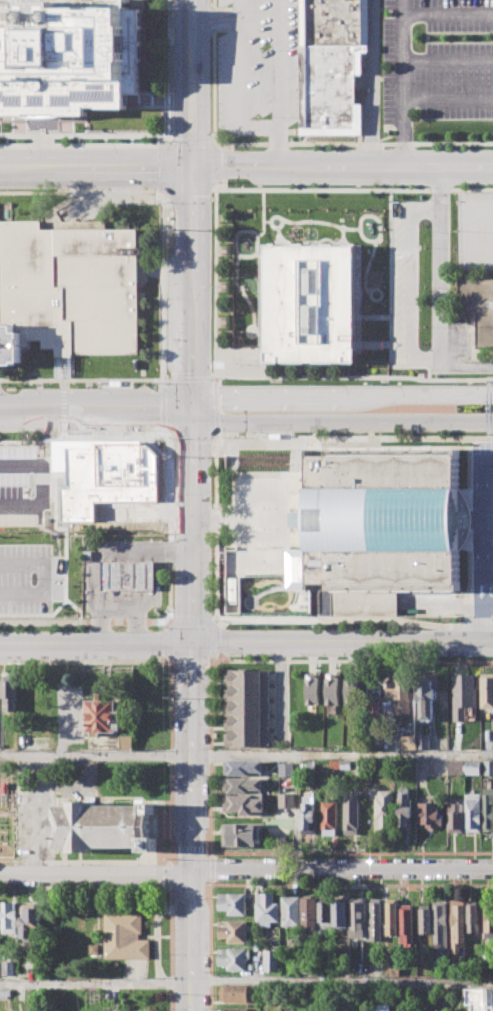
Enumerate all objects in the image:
road: (448, 12)
road: (215, 13)
road: (237, 19)
road: (215, 24)
building: (67, 56)
parking lot: (438, 59)
road: (448, 59)
road: (239, 62)
road: (277, 63)
building: (332, 65)
road: (214, 72)
road: (168, 73)
road: (192, 83)
road: (372, 84)
road: (404, 84)
road: (139, 94)
road: (448, 100)
road: (258, 125)
flagpole: (43, 131)
road: (84, 135)
road: (192, 144)
road: (84, 145)
road: (277, 146)
road: (216, 163)
road: (95, 167)
traffic signals: (191, 167)
road: (342, 167)
road: (163, 169)
road: (191, 188)
road: (81, 191)
road: (164, 195)
parking lot: (473, 230)
road: (465, 232)
road: (191, 283)
building: (71, 285)
road: (408, 285)
road: (164, 291)
road: (442, 292)
parking lot: (429, 293)
building: (313, 301)
building: (476, 307)
building: (9, 345)
road: (341, 396)
road: (95, 399)
traffic signals: (191, 400)
road: (217, 400)
road: (163, 408)
road: (191, 411)
road: (96, 420)
road: (342, 421)
traffic signals: (192, 422)
road: (81, 434)
road: (351, 438)
road: (171, 439)
road: (192, 439)
building: (90, 474)
road: (22, 483)
building: (384, 517)
road: (482, 520)
road: (170, 522)
parking lot: (477, 526)
parking lot: (18, 530)
road: (192, 530)
road: (101, 553)
road: (33, 573)
building: (126, 575)
gas station: (126, 575)
road: (481, 578)
road: (157, 585)
building: (232, 590)
road: (134, 602)
road: (354, 619)
road: (215, 621)
road: (84, 622)
road: (169, 622)
road: (192, 622)
road: (482, 622)
road: (168, 624)
road: (213, 638)
traffic signals: (194, 639)
road: (343, 639)
road: (97, 640)
road: (169, 641)
road: (86, 661)
road: (351, 662)
road: (169, 663)
road: (208, 663)
road: (173, 664)
road: (190, 664)
road: (280, 687)
building: (314, 689)
building: (333, 689)
building: (354, 689)
building: (487, 690)
building: (9, 694)
building: (401, 694)
building: (463, 695)
building: (428, 698)
building: (246, 708)
building: (102, 716)
road: (170, 736)
building: (125, 742)
building: (423, 742)
road: (246, 755)
road: (210, 756)
building: (311, 764)
building: (340, 764)
building: (242, 767)
building: (361, 767)
building: (489, 767)
building: (473, 768)
building: (286, 769)
building: (242, 785)
building: (287, 800)
building: (245, 804)
building: (405, 808)
building: (384, 809)
building: (488, 809)
building: (352, 812)
building: (473, 812)
building: (309, 814)
building: (430, 815)
building: (329, 816)
building: (455, 817)
road: (192, 825)
building: (102, 826)
building: (240, 835)
road: (351, 853)
road: (110, 861)
road: (170, 863)
road: (210, 868)
road: (246, 870)
road: (170, 875)
road: (351, 884)
building: (232, 903)
building: (266, 909)
building: (291, 911)
building: (325, 913)
building: (340, 913)
building: (310, 915)
building: (488, 915)
building: (472, 916)
building: (9, 917)
building: (357, 917)
building: (392, 917)
building: (30, 920)
building: (425, 920)
building: (375, 921)
building: (407, 923)
building: (440, 924)
building: (457, 924)
road: (157, 930)
building: (233, 931)
building: (125, 935)
road: (210, 944)
road: (171, 947)
building: (94, 948)
building: (234, 958)
building: (271, 961)
building: (8, 967)
building: (0, 968)
road: (95, 981)
road: (342, 981)
building: (5, 993)
building: (237, 994)
building: (481, 999)
building: (382, 1007)
building: (53, 1009)
building: (235, 1009)

